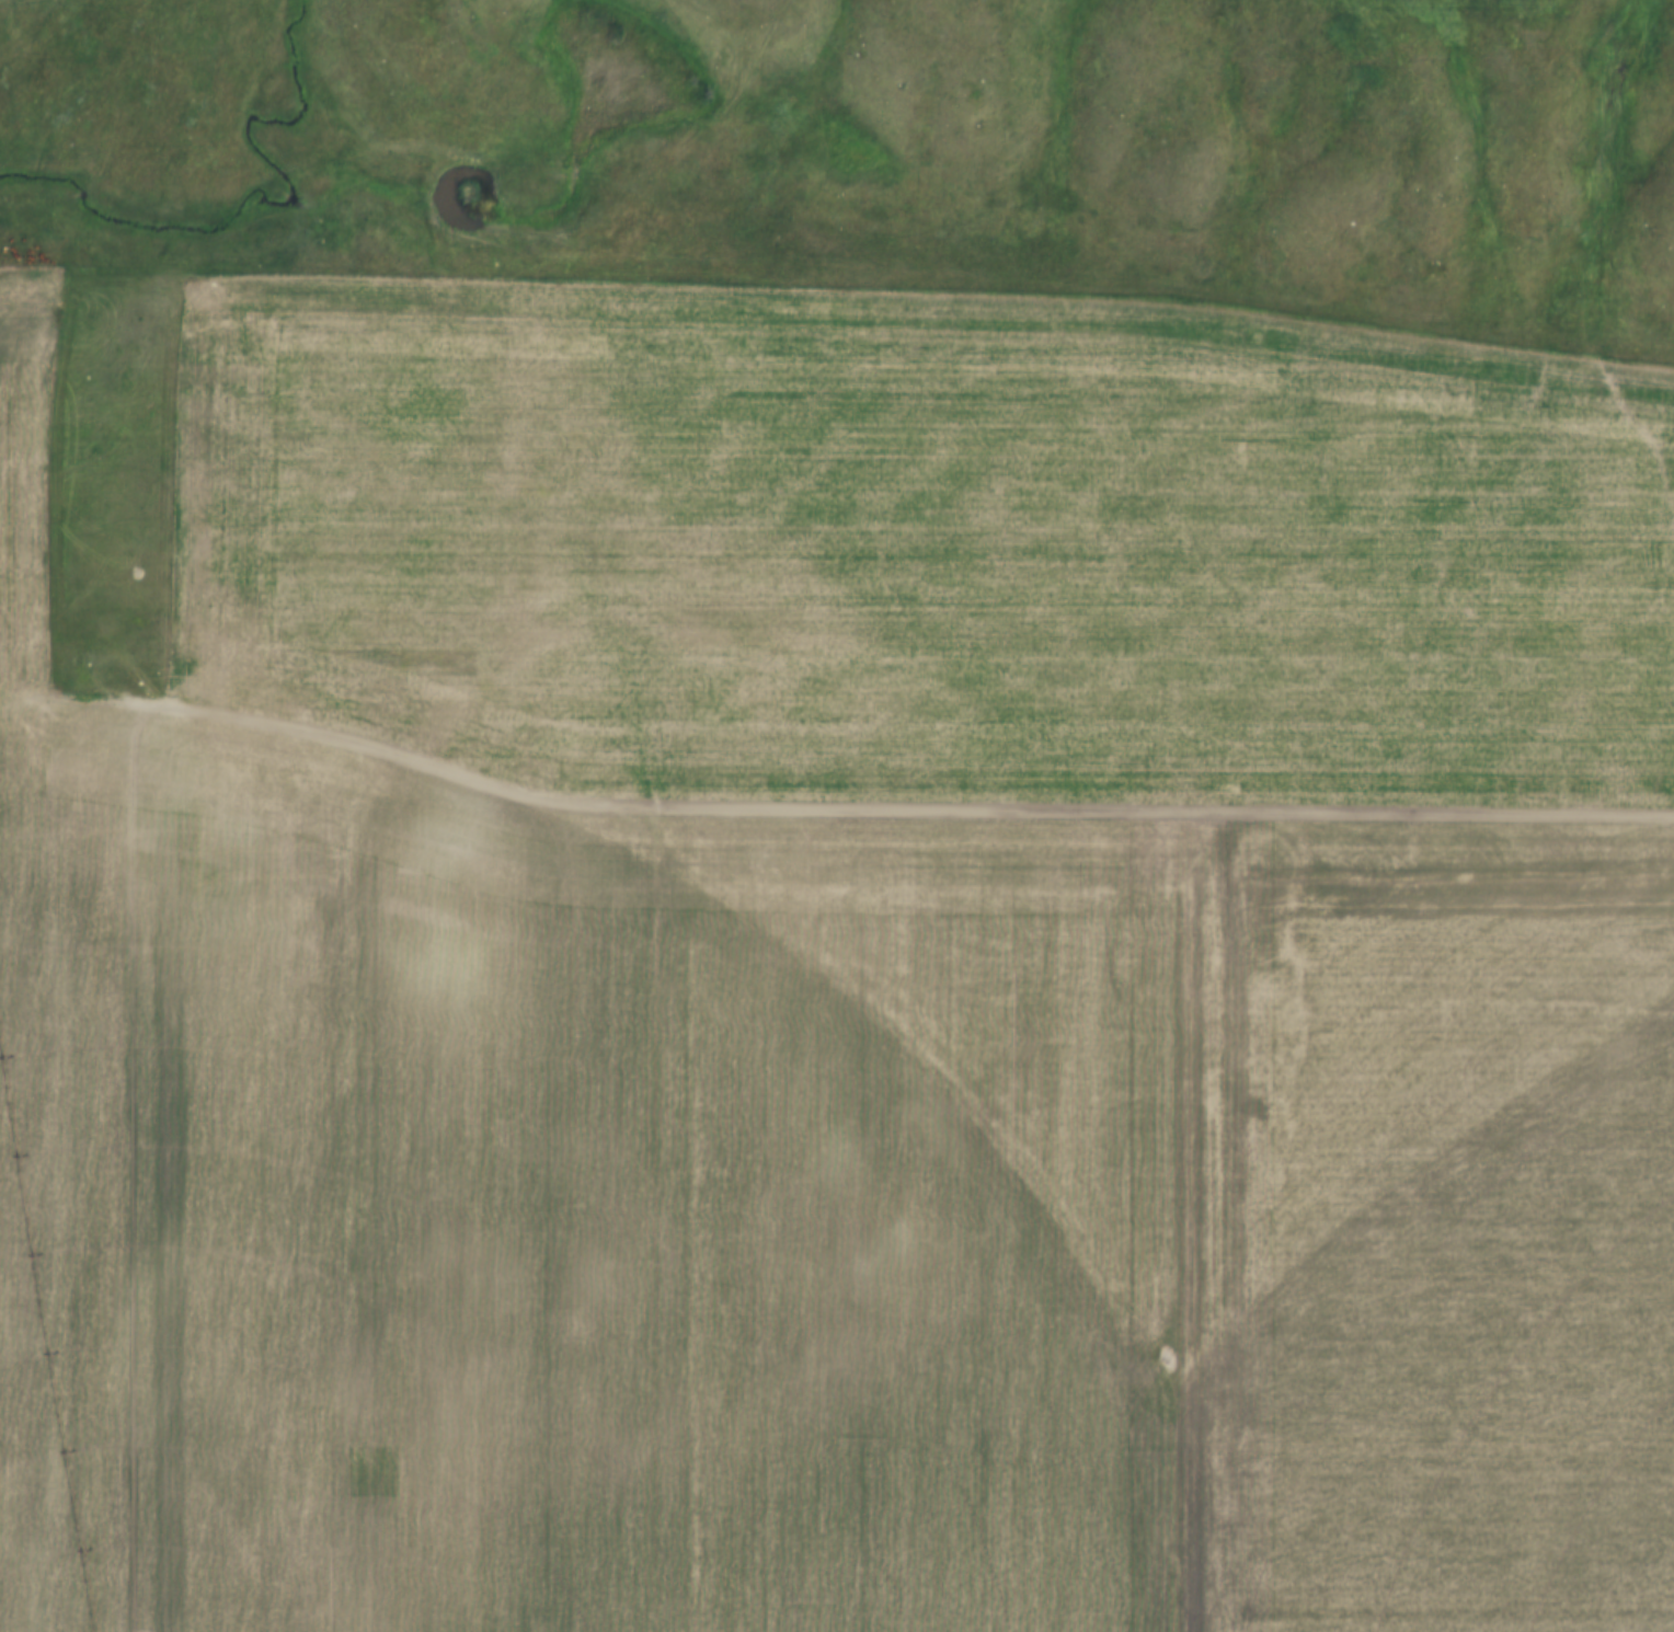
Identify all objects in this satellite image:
road: (1123, 811)

